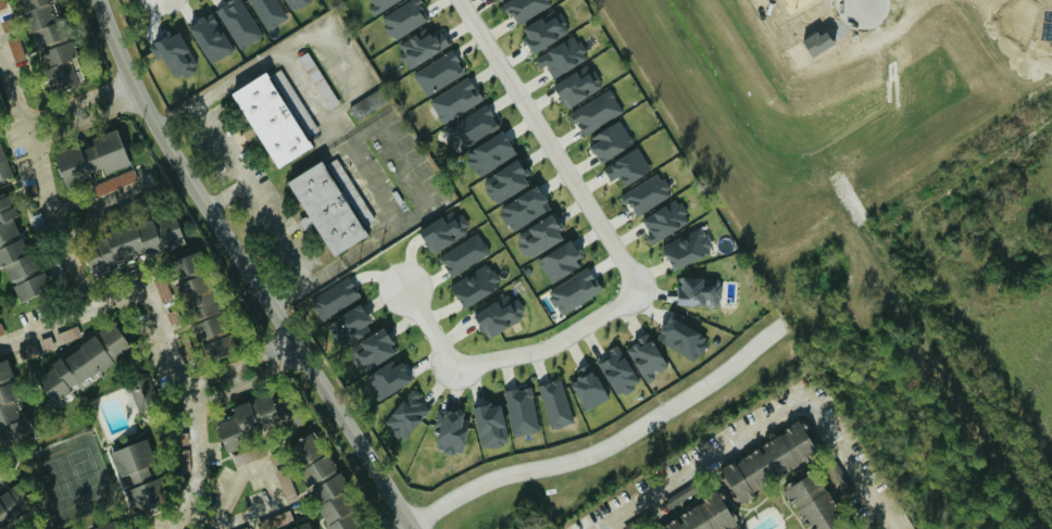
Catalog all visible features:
road: (861, 1)
building: (293, 3)
building: (380, 3)
building: (524, 8)
building: (268, 12)
building: (405, 17)
building: (42, 20)
building: (239, 22)
building: (544, 29)
building: (210, 36)
building: (422, 46)
building: (16, 48)
building: (175, 54)
building: (562, 55)
building: (59, 64)
building: (439, 71)
road: (241, 80)
building: (576, 85)
road: (14, 93)
building: (456, 99)
building: (0, 101)
building: (366, 103)
road: (80, 108)
building: (597, 111)
building: (275, 115)
building: (474, 126)
building: (610, 139)
road: (551, 146)
building: (489, 153)
building: (90, 156)
building: (4, 164)
building: (627, 165)
building: (505, 180)
building: (113, 181)
building: (647, 192)
road: (227, 197)
road: (107, 203)
building: (329, 203)
building: (524, 207)
building: (7, 216)
building: (665, 218)
road: (57, 221)
building: (443, 230)
building: (539, 235)
building: (687, 247)
building: (464, 253)
building: (15, 257)
building: (560, 259)
road: (245, 269)
building: (475, 284)
building: (30, 285)
building: (574, 289)
building: (699, 290)
building: (195, 294)
building: (335, 297)
building: (500, 314)
building: (349, 324)
road: (429, 327)
building: (1, 328)
road: (164, 337)
building: (681, 337)
road: (554, 344)
building: (217, 345)
building: (372, 349)
building: (28, 350)
building: (646, 355)
building: (82, 361)
building: (4, 368)
building: (617, 370)
road: (245, 371)
building: (387, 378)
building: (588, 387)
building: (143, 392)
building: (555, 402)
building: (522, 410)
building: (408, 413)
road: (774, 413)
building: (11, 414)
building: (247, 420)
building: (490, 424)
building: (451, 430)
road: (601, 443)
building: (311, 457)
building: (767, 459)
road: (259, 467)
building: (138, 473)
building: (815, 502)
building: (12, 503)
building: (334, 503)
building: (702, 516)
building: (105, 525)
building: (303, 526)

